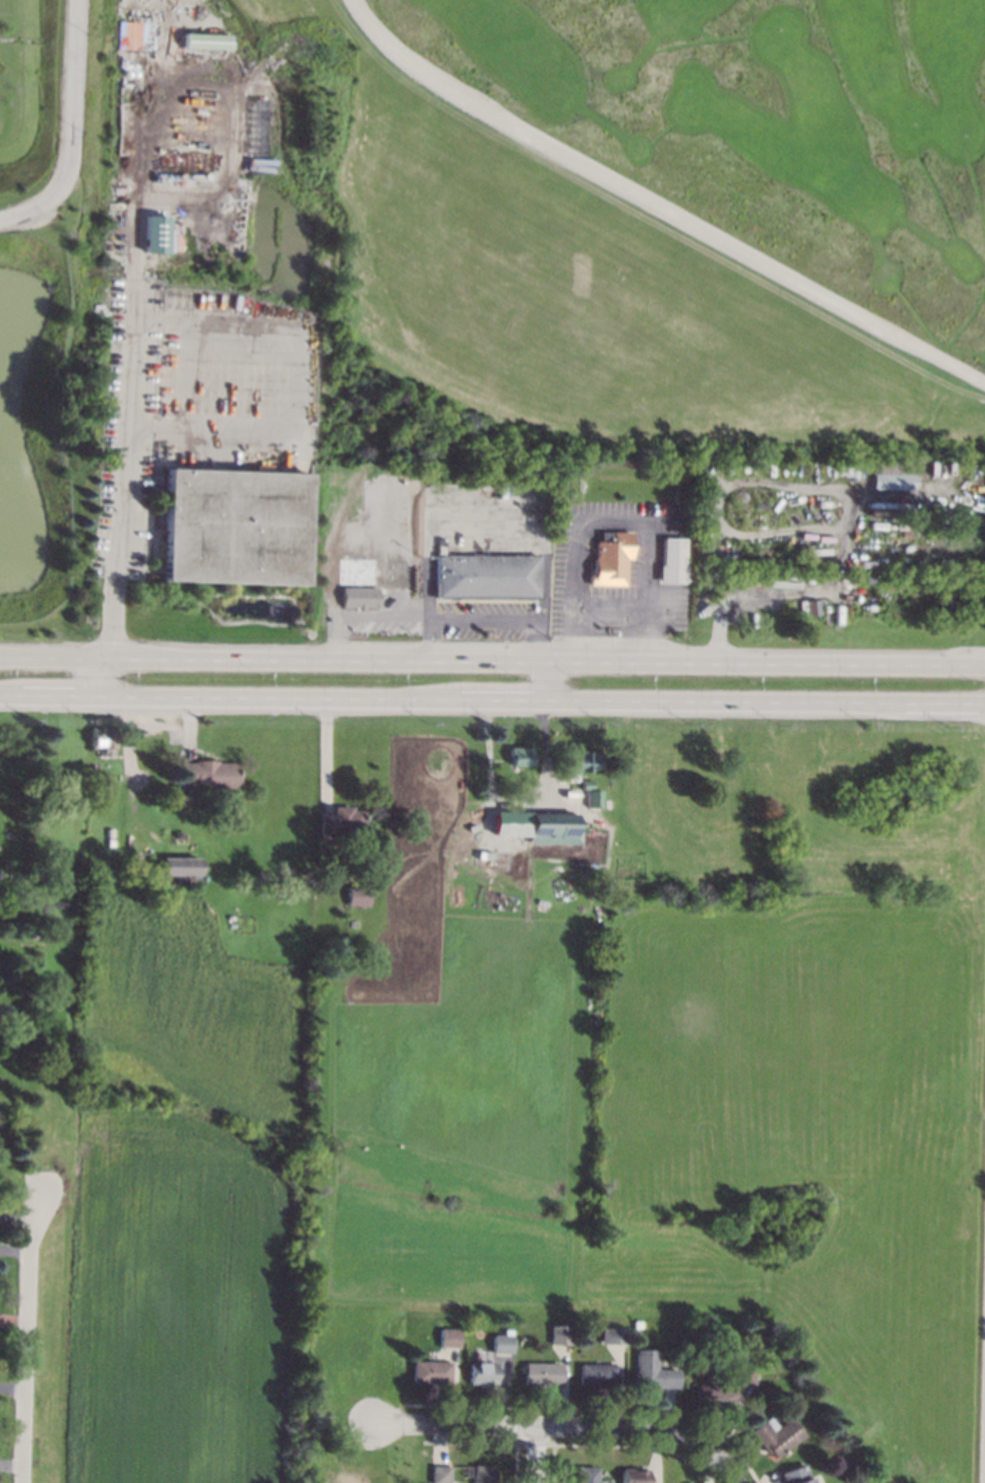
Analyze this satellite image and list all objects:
building: (131, 34)
building: (205, 42)
road: (64, 126)
road: (657, 204)
building: (154, 234)
parking lot: (130, 429)
road: (128, 451)
building: (893, 473)
building: (235, 526)
road: (651, 550)
road: (578, 557)
building: (610, 558)
building: (671, 561)
building: (485, 576)
building: (359, 597)
road: (616, 603)
building: (810, 607)
road: (651, 614)
road: (484, 619)
road: (431, 639)
road: (537, 640)
road: (492, 660)
road: (552, 683)
road: (492, 704)
building: (102, 739)
road: (327, 755)
building: (519, 755)
building: (578, 761)
building: (41, 768)
building: (207, 773)
building: (585, 783)
building: (592, 798)
building: (341, 821)
building: (551, 823)
building: (177, 834)
building: (164, 866)
building: (40, 872)
building: (358, 895)
building: (33, 934)
crop: (535, 1107)
building: (636, 1323)
building: (560, 1334)
building: (610, 1335)
road: (26, 1337)
building: (448, 1337)
building: (397, 1339)
building: (500, 1346)
building: (482, 1356)
building: (786, 1362)
building: (653, 1370)
building: (430, 1371)
building: (481, 1372)
building: (541, 1373)
building: (596, 1373)
building: (744, 1374)
building: (714, 1392)
road: (550, 1428)
building: (776, 1435)
road: (537, 1455)
building: (440, 1474)
building: (483, 1474)
building: (586, 1474)
road: (729, 1474)
building: (635, 1475)
building: (796, 1475)

